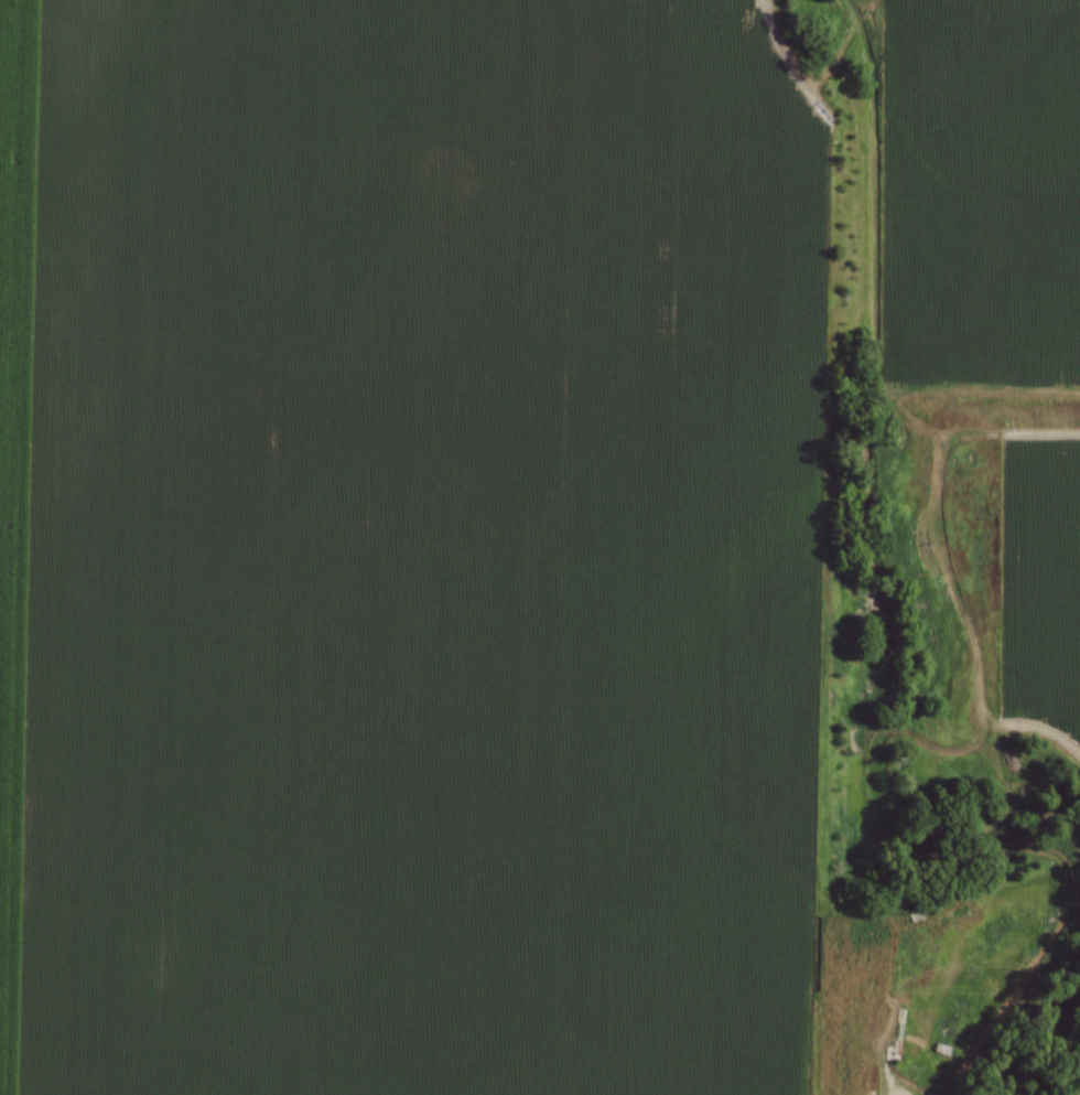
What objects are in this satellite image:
crop: (981, 194)
crop: (408, 547)
crop: (1040, 579)
building: (852, 935)
road: (879, 1062)
road: (895, 1094)

